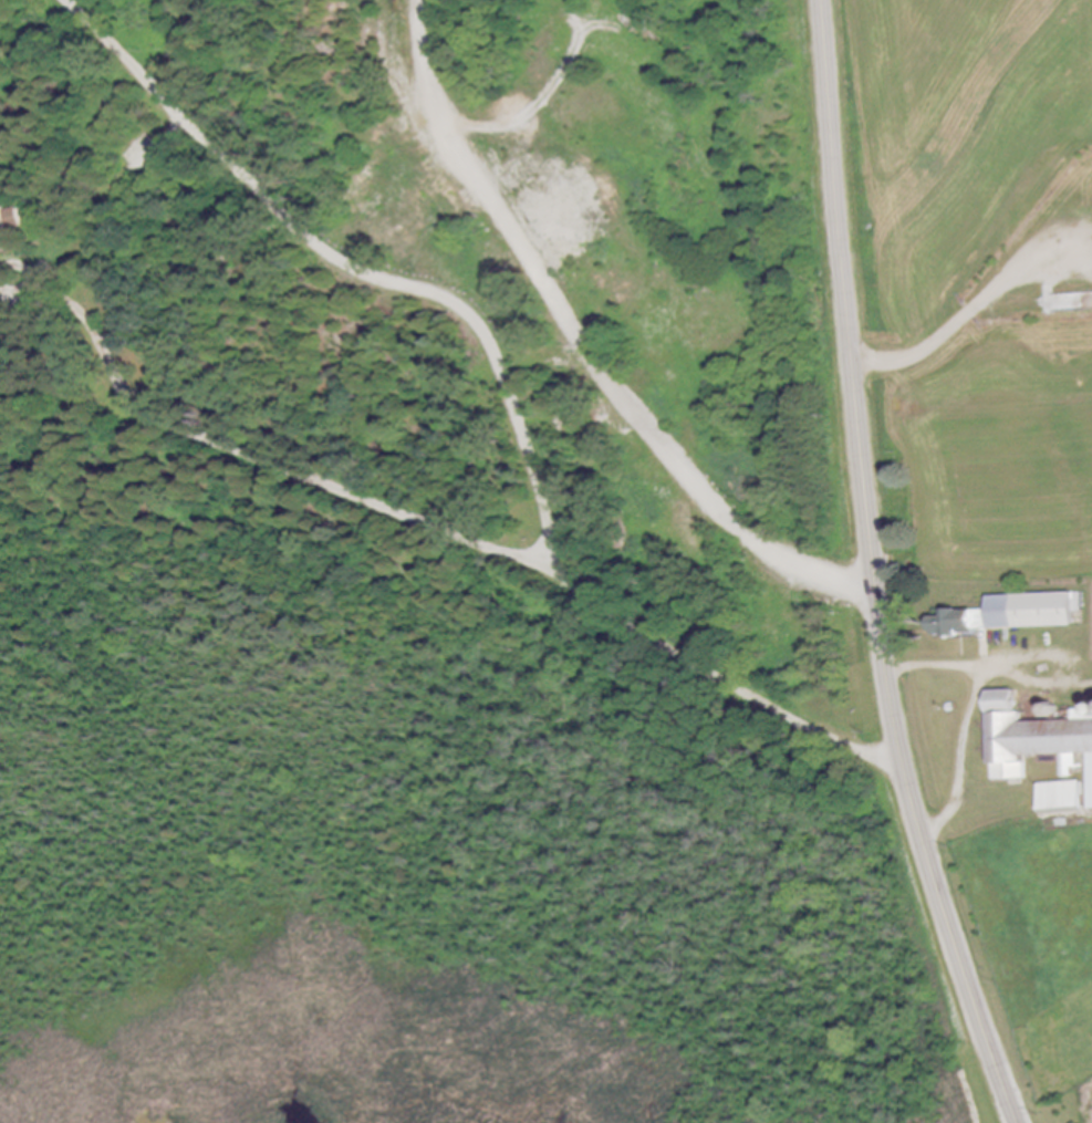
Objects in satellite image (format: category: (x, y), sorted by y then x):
building: (8, 227)
road: (960, 322)
road: (584, 350)
road: (502, 377)
road: (273, 460)
road: (876, 570)
building: (1031, 612)
building: (957, 624)
road: (975, 710)
building: (1036, 741)
building: (1060, 797)

